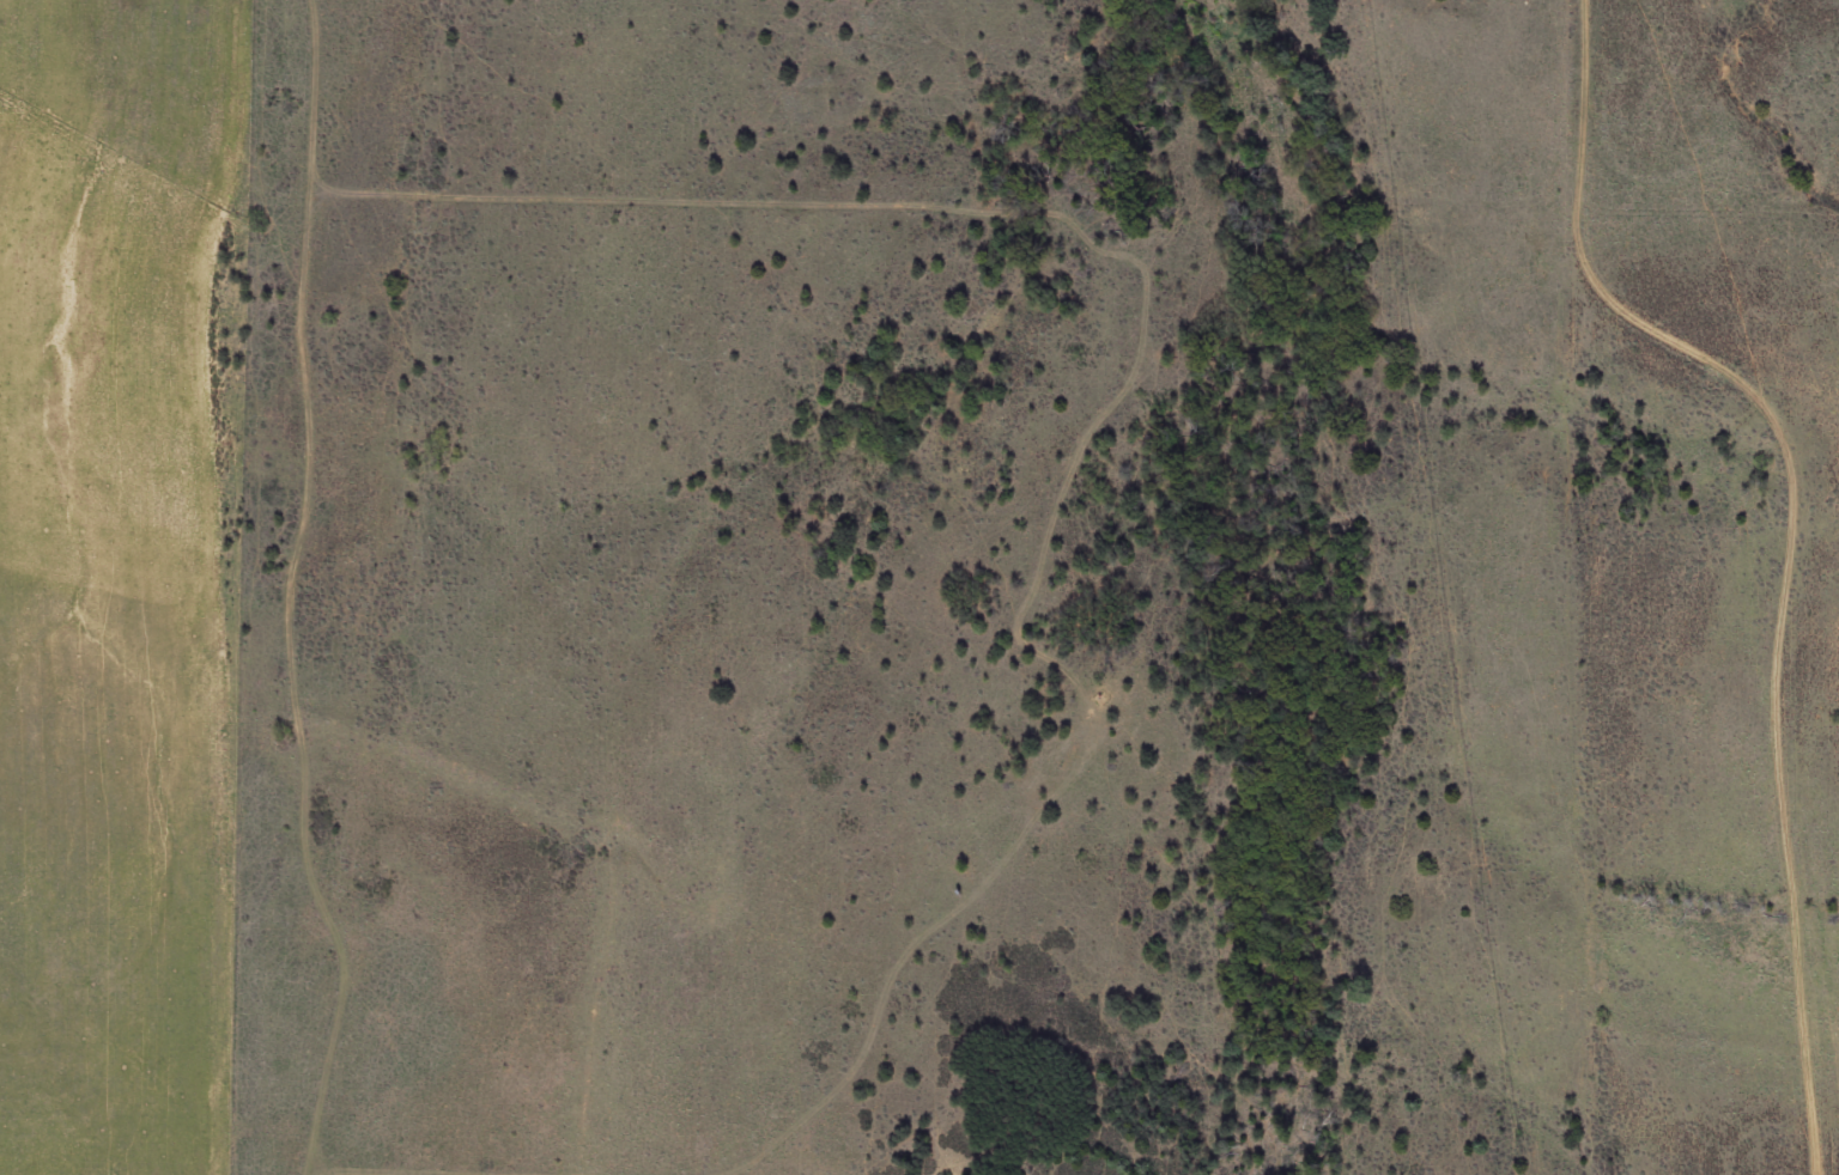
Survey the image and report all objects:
road: (1570, 564)

